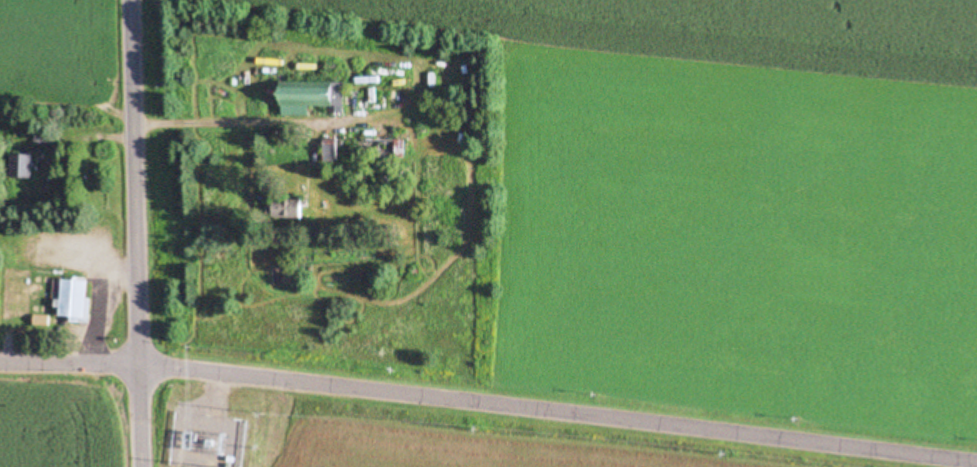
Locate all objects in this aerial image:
building: (314, 95)
building: (45, 137)
building: (386, 149)
building: (333, 150)
building: (26, 165)
building: (286, 209)
road: (140, 233)
building: (77, 300)
road: (71, 354)
road: (559, 403)
power substation: (214, 428)

